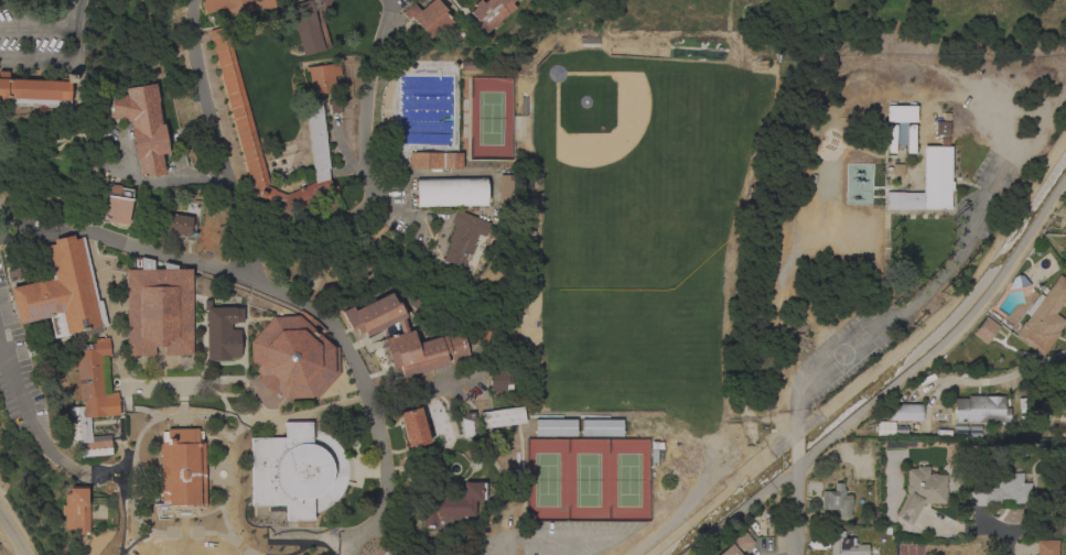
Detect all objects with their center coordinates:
building: (236, 6)
building: (488, 12)
building: (428, 17)
building: (310, 24)
road: (50, 28)
road: (52, 59)
building: (323, 77)
building: (34, 91)
road: (359, 112)
building: (898, 113)
building: (143, 126)
building: (939, 128)
building: (889, 138)
building: (247, 139)
building: (908, 139)
road: (219, 141)
road: (967, 144)
road: (928, 145)
road: (918, 156)
building: (435, 160)
building: (895, 170)
building: (934, 177)
road: (172, 181)
road: (963, 182)
building: (504, 187)
parking lot: (992, 187)
building: (451, 192)
building: (901, 200)
road: (919, 200)
building: (118, 204)
road: (950, 211)
building: (176, 224)
road: (884, 231)
road: (971, 233)
building: (462, 237)
building: (1014, 283)
building: (63, 292)
road: (290, 301)
building: (413, 301)
building: (159, 311)
building: (1043, 318)
building: (986, 329)
building: (222, 331)
road: (948, 336)
building: (405, 337)
parking lot: (839, 356)
building: (294, 357)
building: (499, 379)
road: (987, 381)
building: (1065, 382)
building: (91, 400)
building: (1063, 406)
building: (980, 409)
building: (903, 412)
building: (502, 417)
building: (469, 423)
road: (796, 424)
building: (413, 427)
building: (553, 427)
building: (600, 427)
building: (884, 428)
road: (37, 434)
road: (795, 449)
building: (182, 470)
building: (289, 470)
building: (1063, 485)
road: (712, 491)
building: (1000, 491)
building: (920, 492)
building: (837, 500)
building: (451, 505)
road: (795, 508)
building: (76, 510)
road: (740, 510)
road: (243, 533)
road: (10, 535)
road: (552, 537)
building: (737, 544)
building: (844, 545)
road: (1010, 545)
building: (1046, 546)
building: (395, 553)

